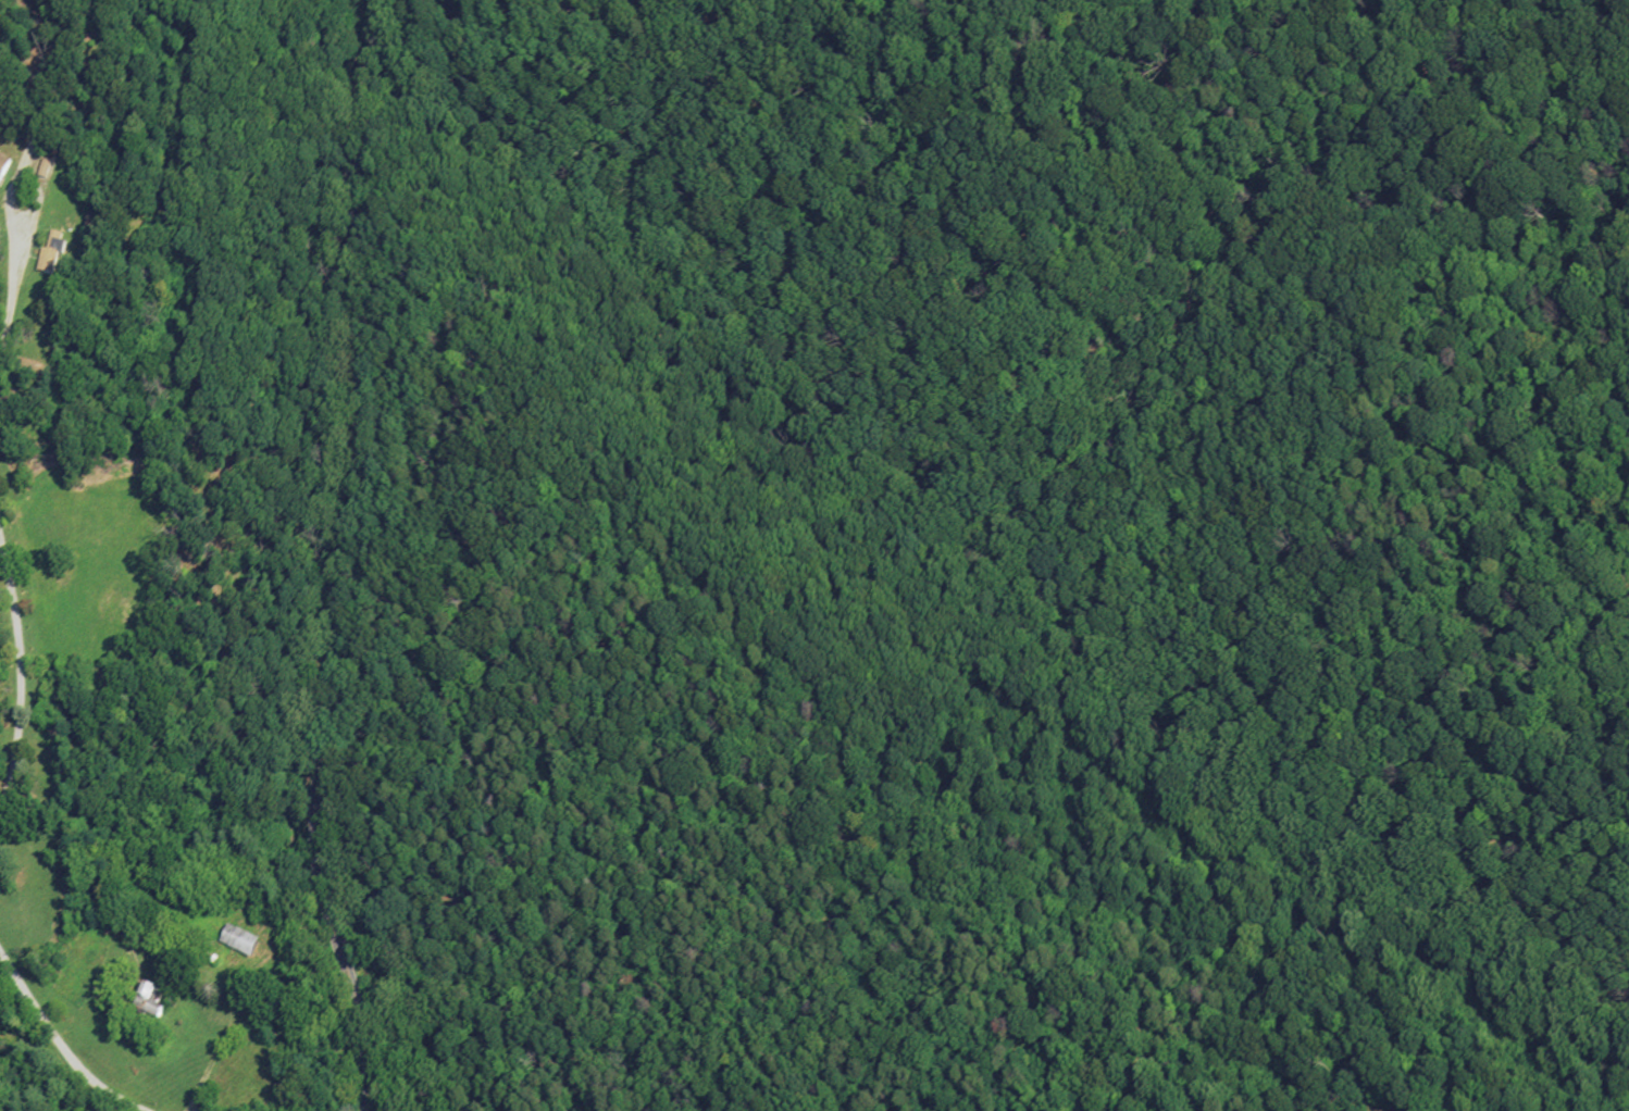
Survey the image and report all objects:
building: (3, 166)
road: (13, 192)
building: (49, 254)
building: (39, 259)
road: (347, 557)
road: (20, 678)
building: (239, 947)
building: (146, 1006)
road: (59, 1041)

